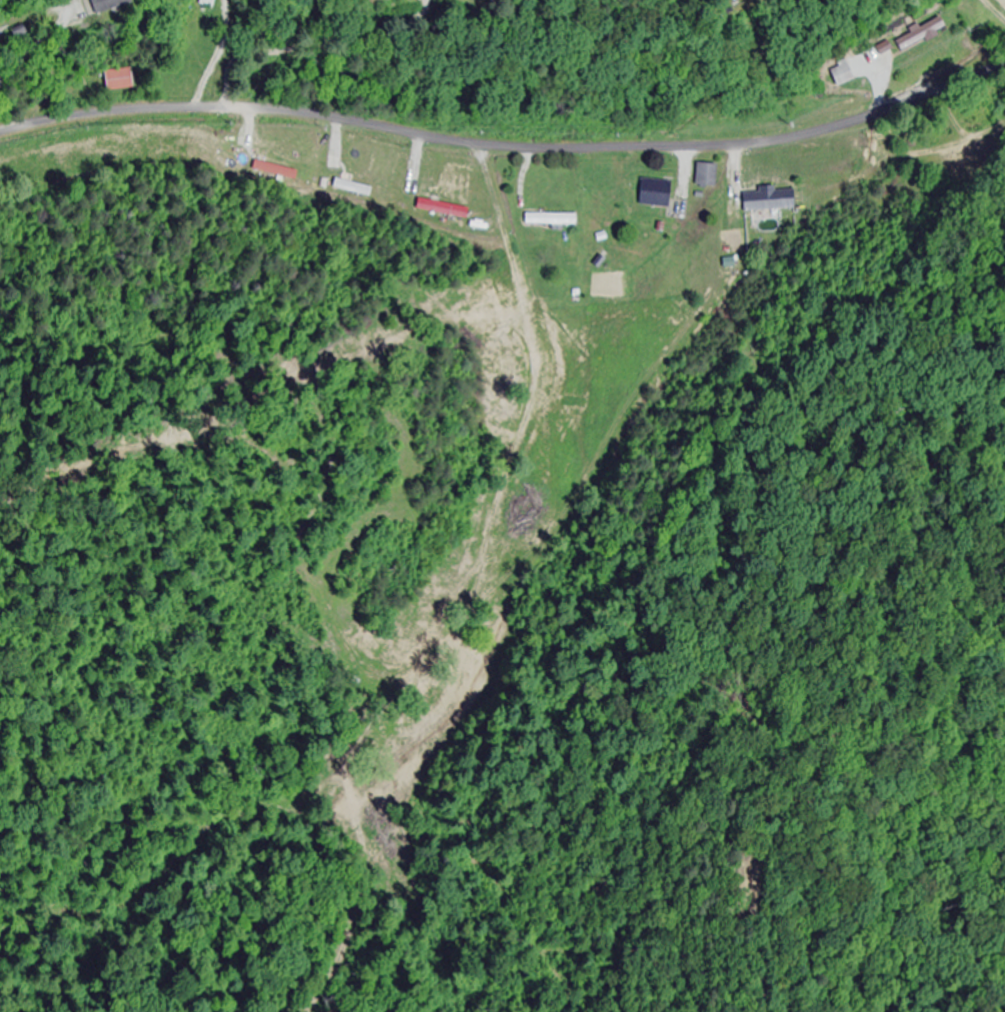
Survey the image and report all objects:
building: (113, 5)
building: (204, 10)
building: (923, 34)
building: (123, 80)
road: (506, 145)
building: (708, 175)
building: (656, 193)
building: (771, 200)
building: (551, 219)

